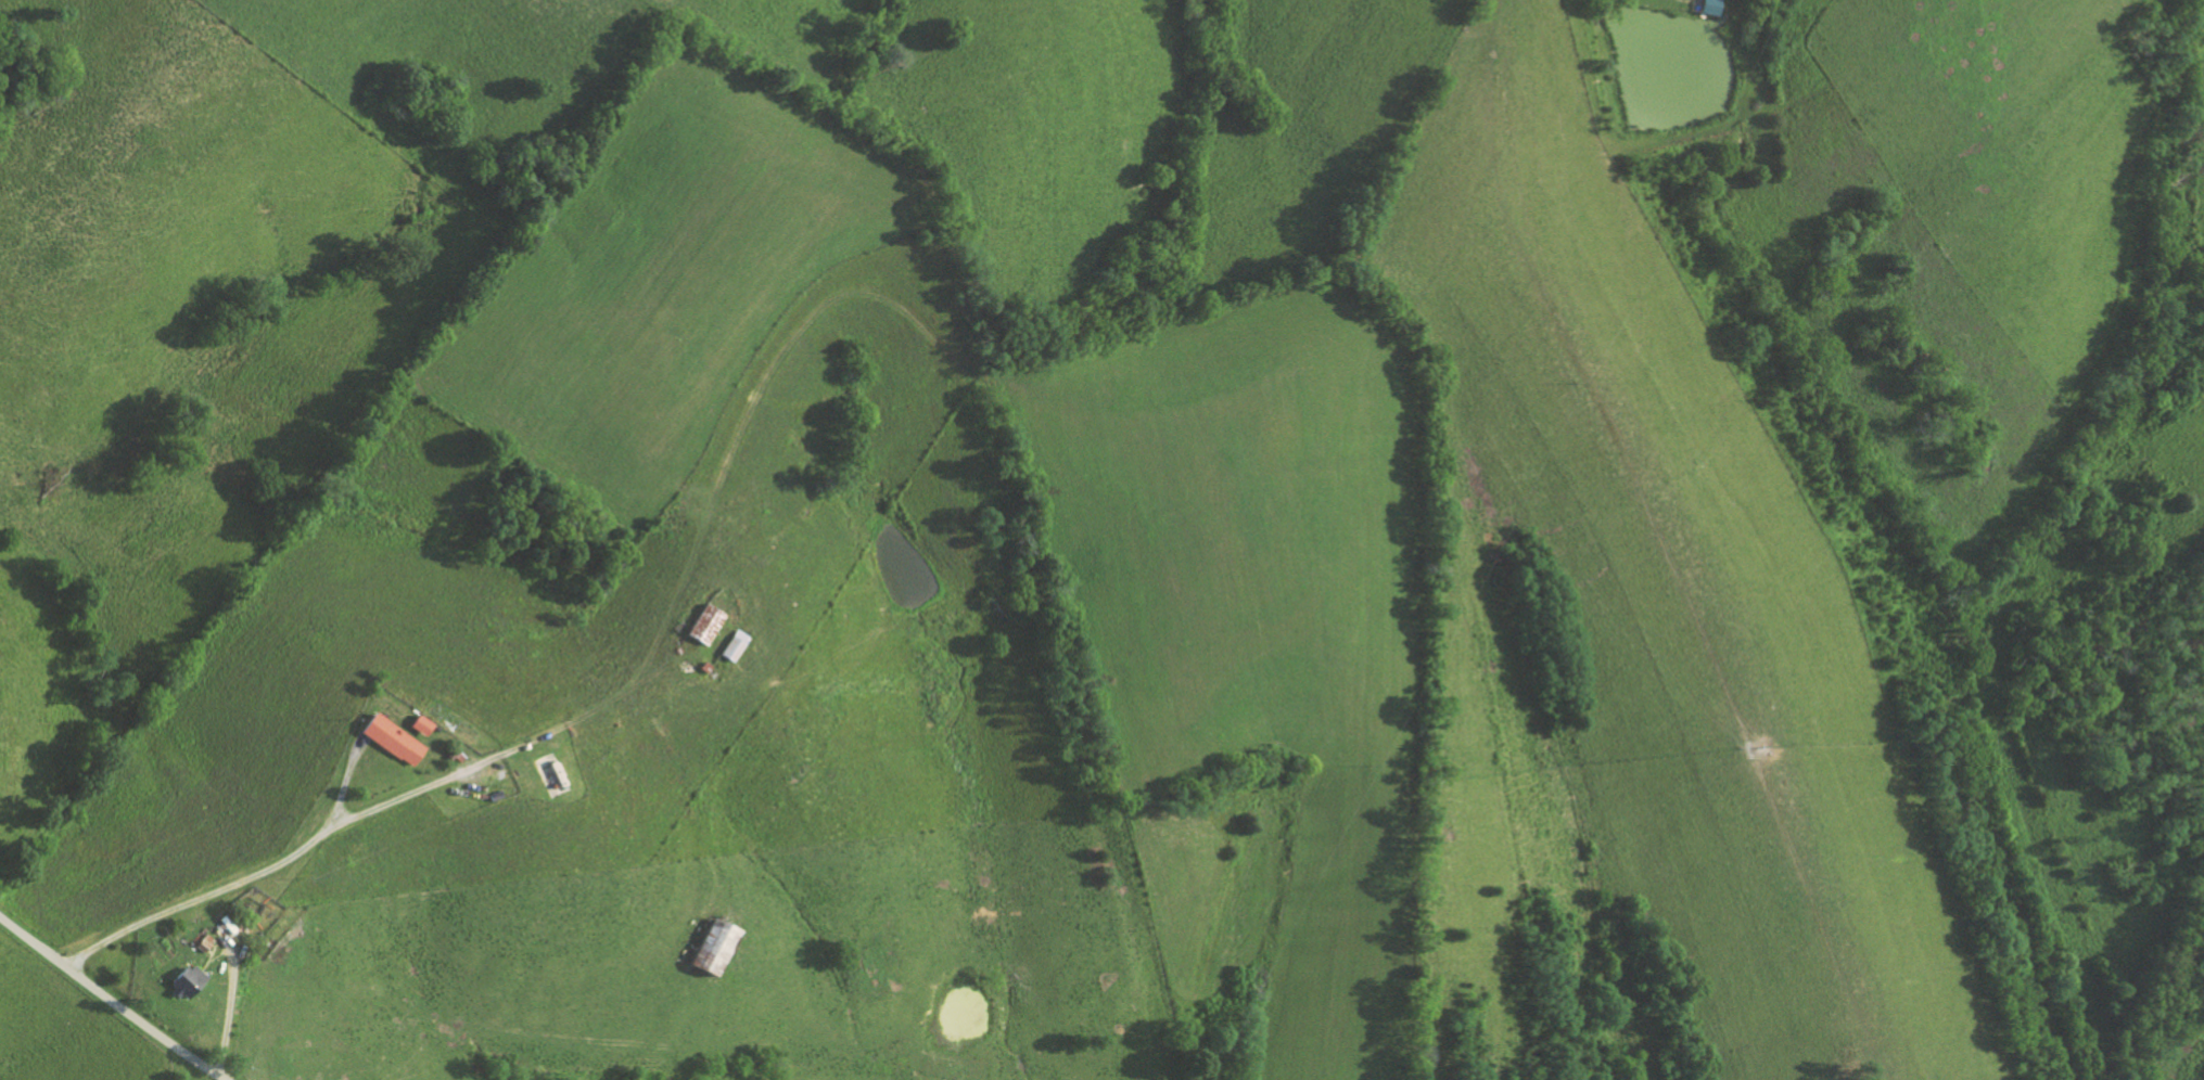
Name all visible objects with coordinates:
building: (709, 625)
building: (736, 645)
building: (424, 725)
building: (397, 741)
road: (370, 810)
building: (718, 949)
building: (191, 982)
road: (109, 1000)

